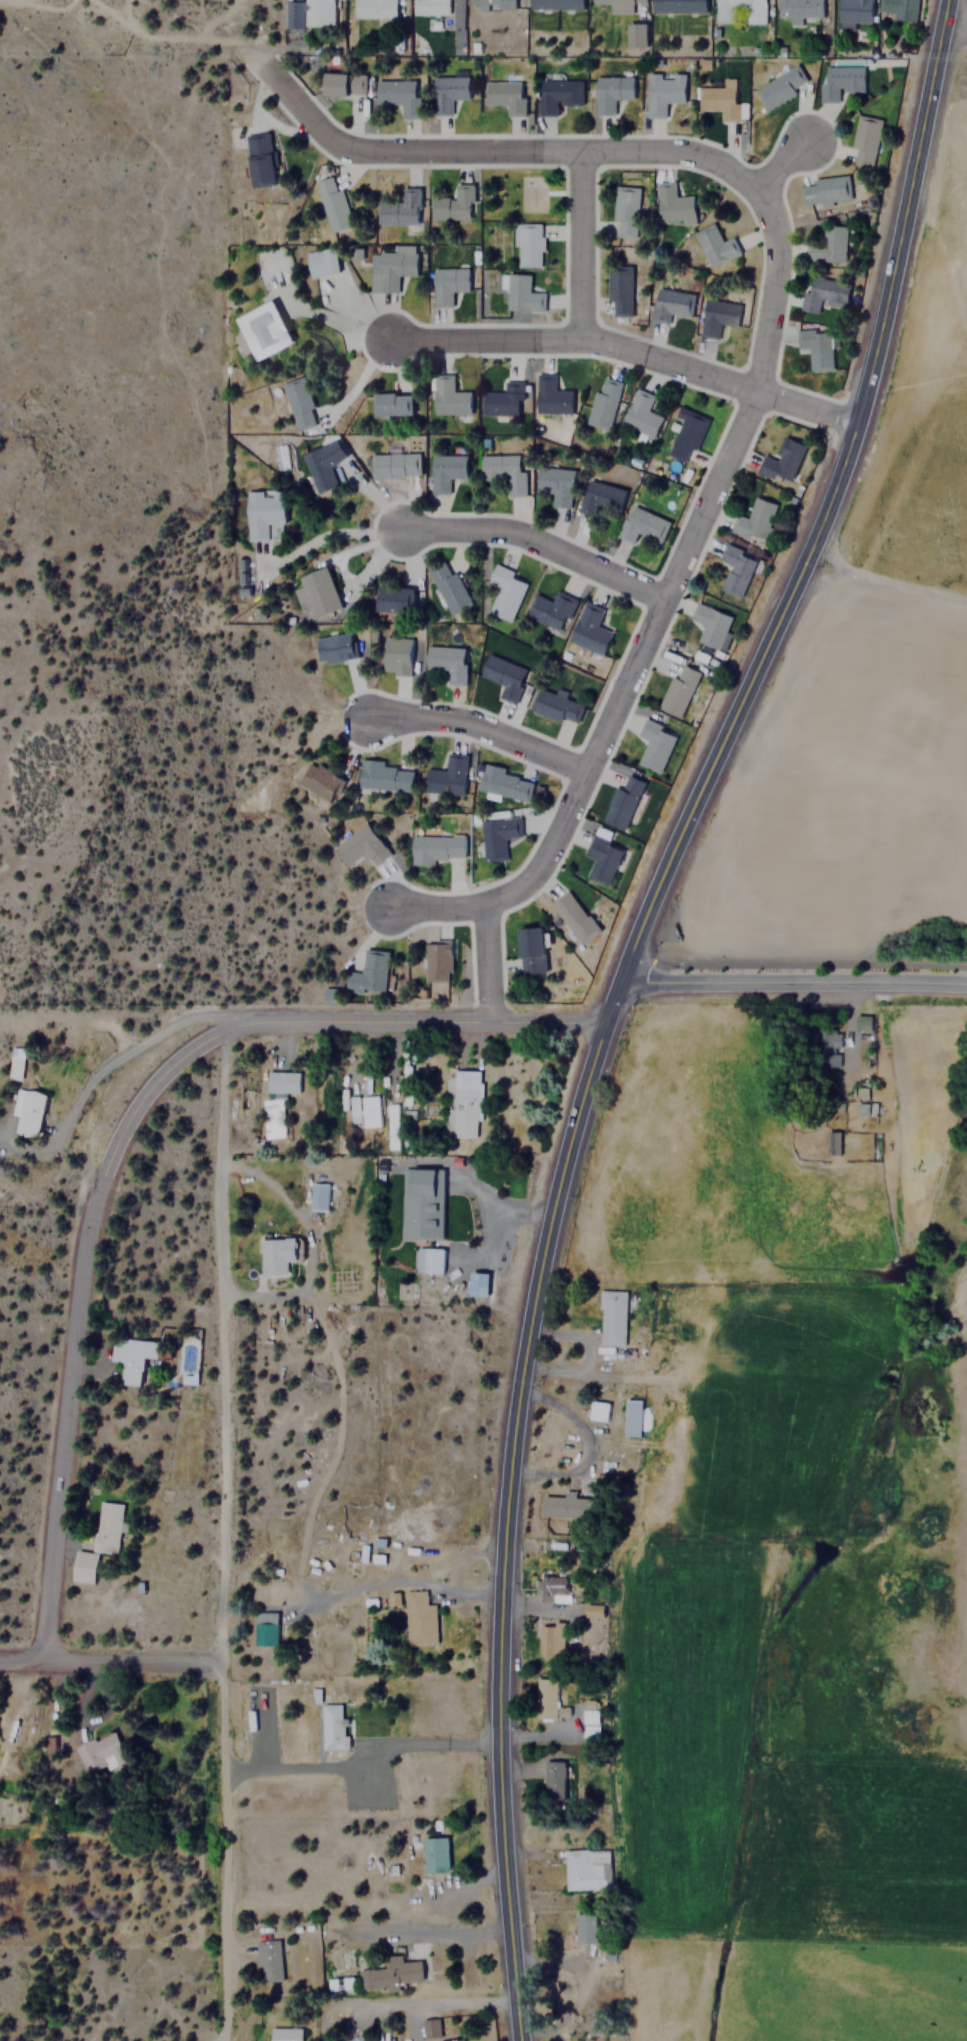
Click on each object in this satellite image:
building: (490, 4)
building: (554, 4)
building: (615, 6)
building: (677, 6)
building: (430, 7)
building: (731, 7)
building: (373, 8)
building: (797, 8)
building: (899, 9)
building: (853, 11)
building: (317, 12)
building: (637, 34)
building: (704, 64)
building: (838, 82)
building: (341, 84)
building: (781, 86)
building: (446, 92)
building: (610, 92)
building: (662, 92)
building: (504, 95)
building: (556, 95)
building: (397, 96)
building: (718, 101)
building: (863, 141)
building: (259, 160)
road: (783, 168)
building: (823, 190)
building: (453, 205)
building: (671, 206)
building: (332, 207)
building: (396, 211)
building: (624, 212)
building: (527, 245)
road: (583, 245)
building: (713, 246)
building: (828, 246)
building: (319, 262)
building: (389, 267)
building: (446, 285)
building: (619, 292)
building: (519, 293)
building: (822, 293)
building: (669, 305)
road: (768, 309)
building: (717, 317)
building: (261, 330)
building: (816, 350)
road: (628, 351)
building: (550, 396)
building: (447, 398)
building: (502, 401)
building: (603, 403)
building: (297, 404)
building: (391, 404)
building: (640, 415)
building: (685, 435)
building: (780, 462)
building: (321, 464)
building: (394, 466)
building: (445, 471)
building: (504, 472)
building: (554, 484)
building: (599, 497)
building: (262, 512)
building: (754, 520)
building: (640, 525)
road: (536, 543)
building: (734, 570)
building: (240, 571)
building: (448, 587)
building: (504, 593)
building: (314, 594)
building: (392, 601)
building: (549, 610)
building: (711, 626)
building: (589, 630)
building: (332, 649)
building: (394, 656)
building: (446, 662)
building: (503, 677)
building: (678, 690)
building: (554, 705)
road: (479, 730)
building: (654, 745)
building: (384, 775)
building: (446, 775)
building: (319, 781)
building: (504, 783)
building: (621, 802)
building: (495, 836)
building: (360, 845)
building: (435, 848)
building: (601, 859)
road: (436, 908)
building: (573, 917)
building: (529, 950)
building: (437, 960)
road: (484, 964)
building: (368, 973)
road: (792, 979)
road: (612, 997)
road: (414, 1021)
building: (828, 1045)
building: (14, 1068)
building: (281, 1082)
building: (461, 1104)
building: (867, 1108)
building: (355, 1109)
building: (370, 1111)
building: (27, 1112)
building: (392, 1115)
building: (272, 1116)
building: (832, 1142)
building: (317, 1195)
building: (420, 1204)
building: (275, 1254)
building: (427, 1259)
building: (479, 1283)
building: (611, 1317)
road: (75, 1319)
building: (131, 1357)
building: (597, 1411)
building: (631, 1417)
road: (572, 1440)
building: (563, 1505)
building: (108, 1527)
road: (221, 1535)
building: (85, 1567)
road: (404, 1581)
building: (552, 1588)
building: (395, 1598)
building: (592, 1609)
building: (418, 1619)
building: (264, 1627)
building: (550, 1638)
road: (111, 1661)
building: (544, 1697)
building: (589, 1723)
building: (332, 1729)
building: (99, 1752)
building: (552, 1774)
building: (434, 1854)
building: (586, 1868)
building: (584, 1928)
road: (458, 1930)
building: (267, 1960)
building: (386, 1975)
road: (436, 2007)
building: (284, 2034)

